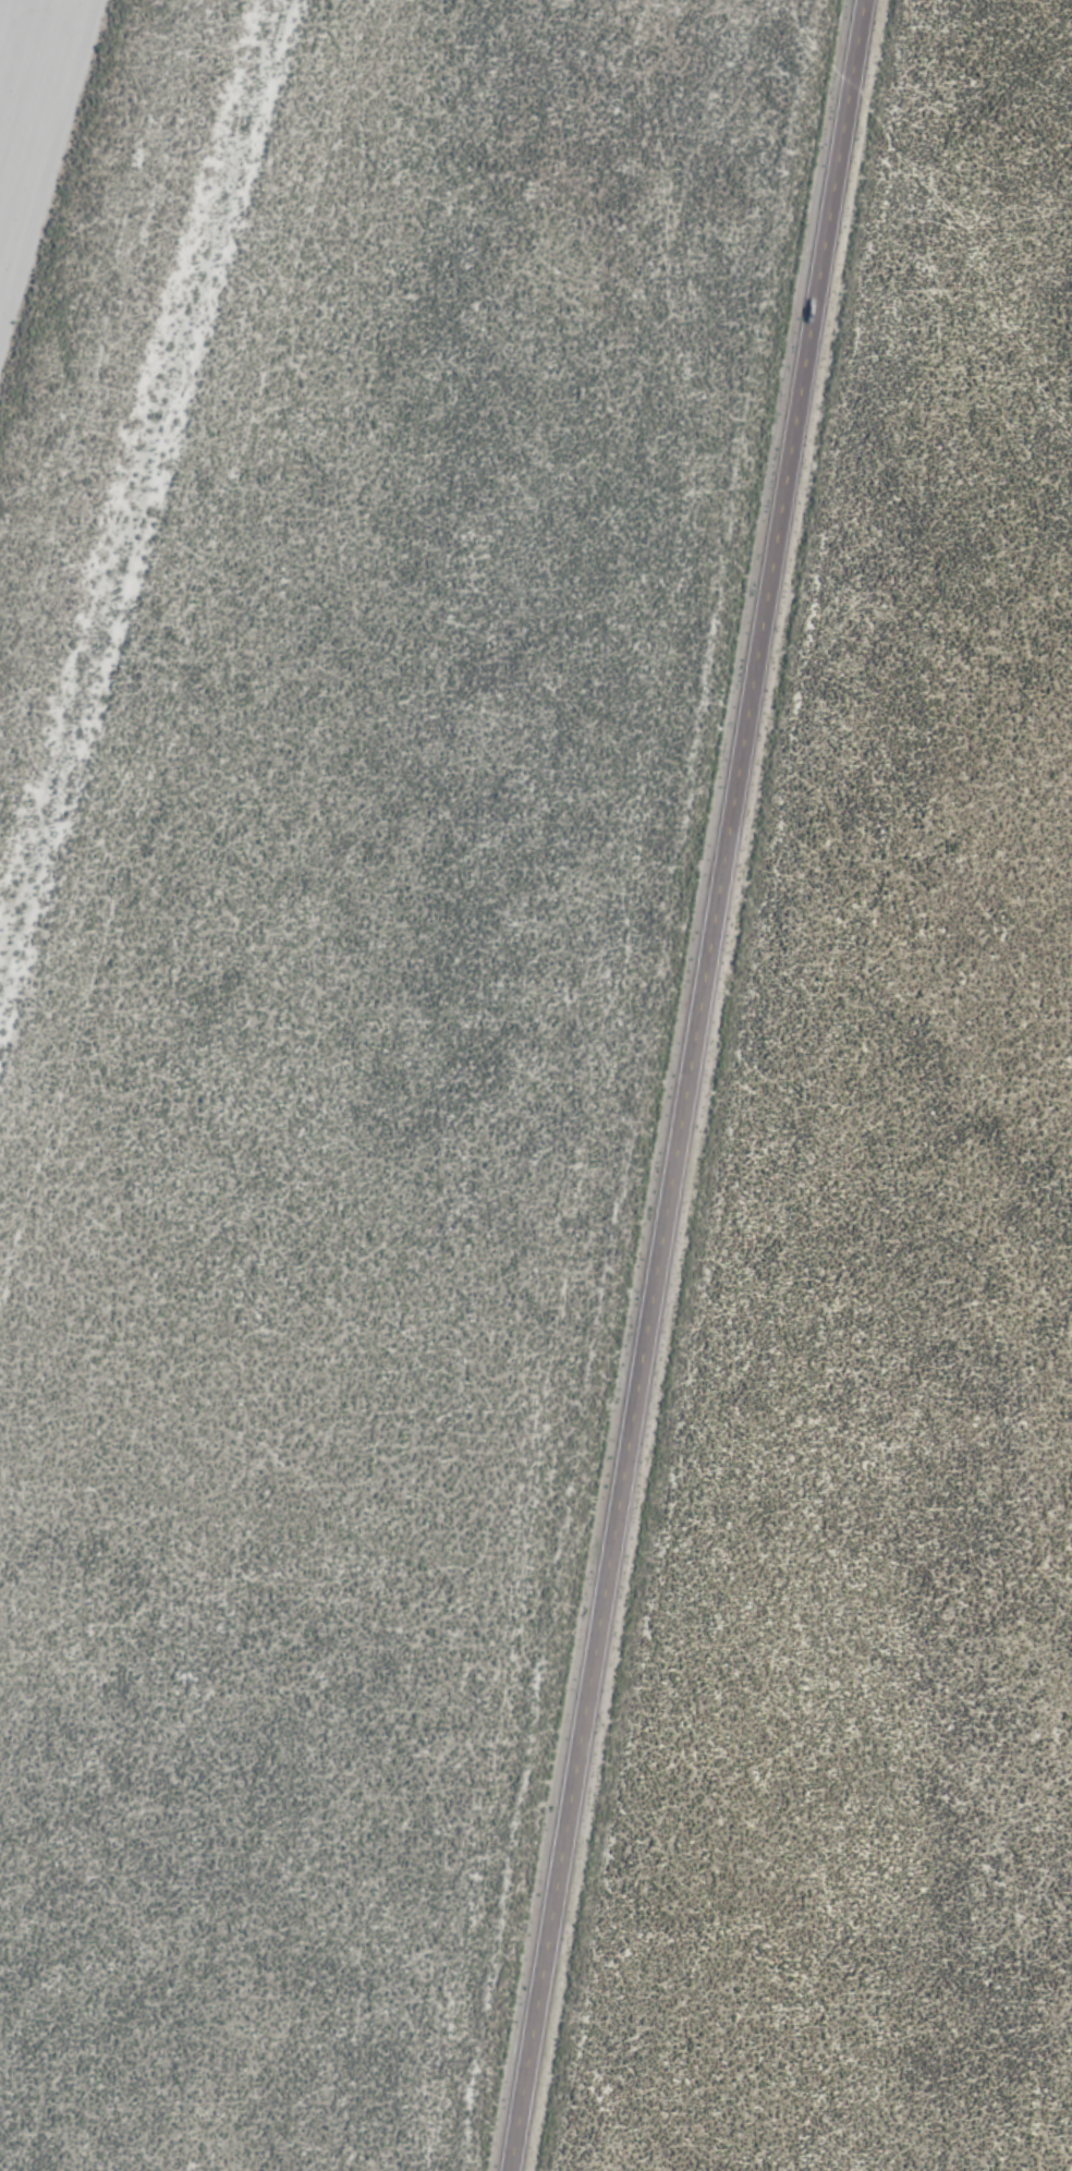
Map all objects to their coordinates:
airport runway: (24, 86)
road: (685, 1085)

